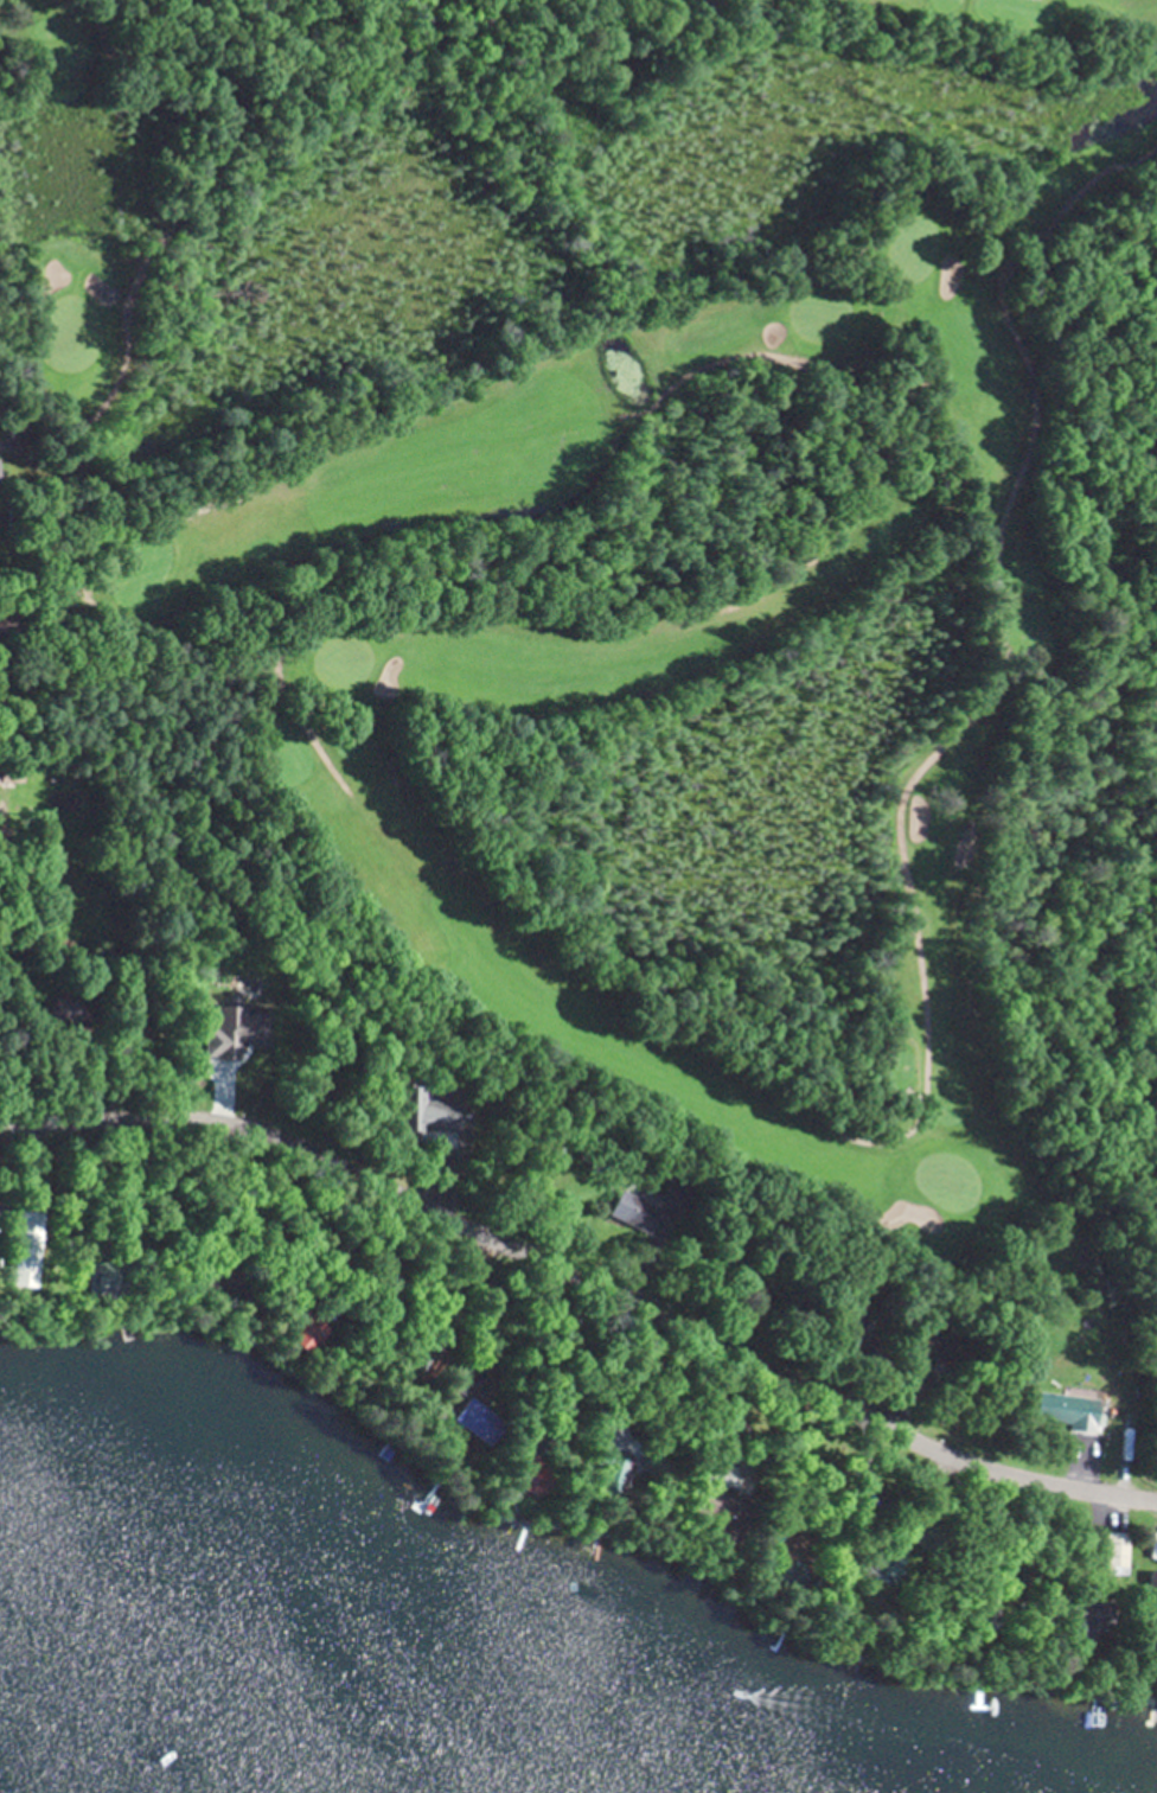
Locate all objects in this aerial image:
park: (651, 550)
building: (21, 773)
building: (75, 1012)
building: (421, 1111)
building: (632, 1211)
building: (24, 1250)
road: (583, 1280)
building: (96, 1281)
building: (213, 1282)
building: (856, 1326)
building: (460, 1405)
building: (1060, 1409)
building: (602, 1460)
building: (697, 1504)
building: (779, 1542)
building: (1108, 1552)
building: (1072, 1615)

